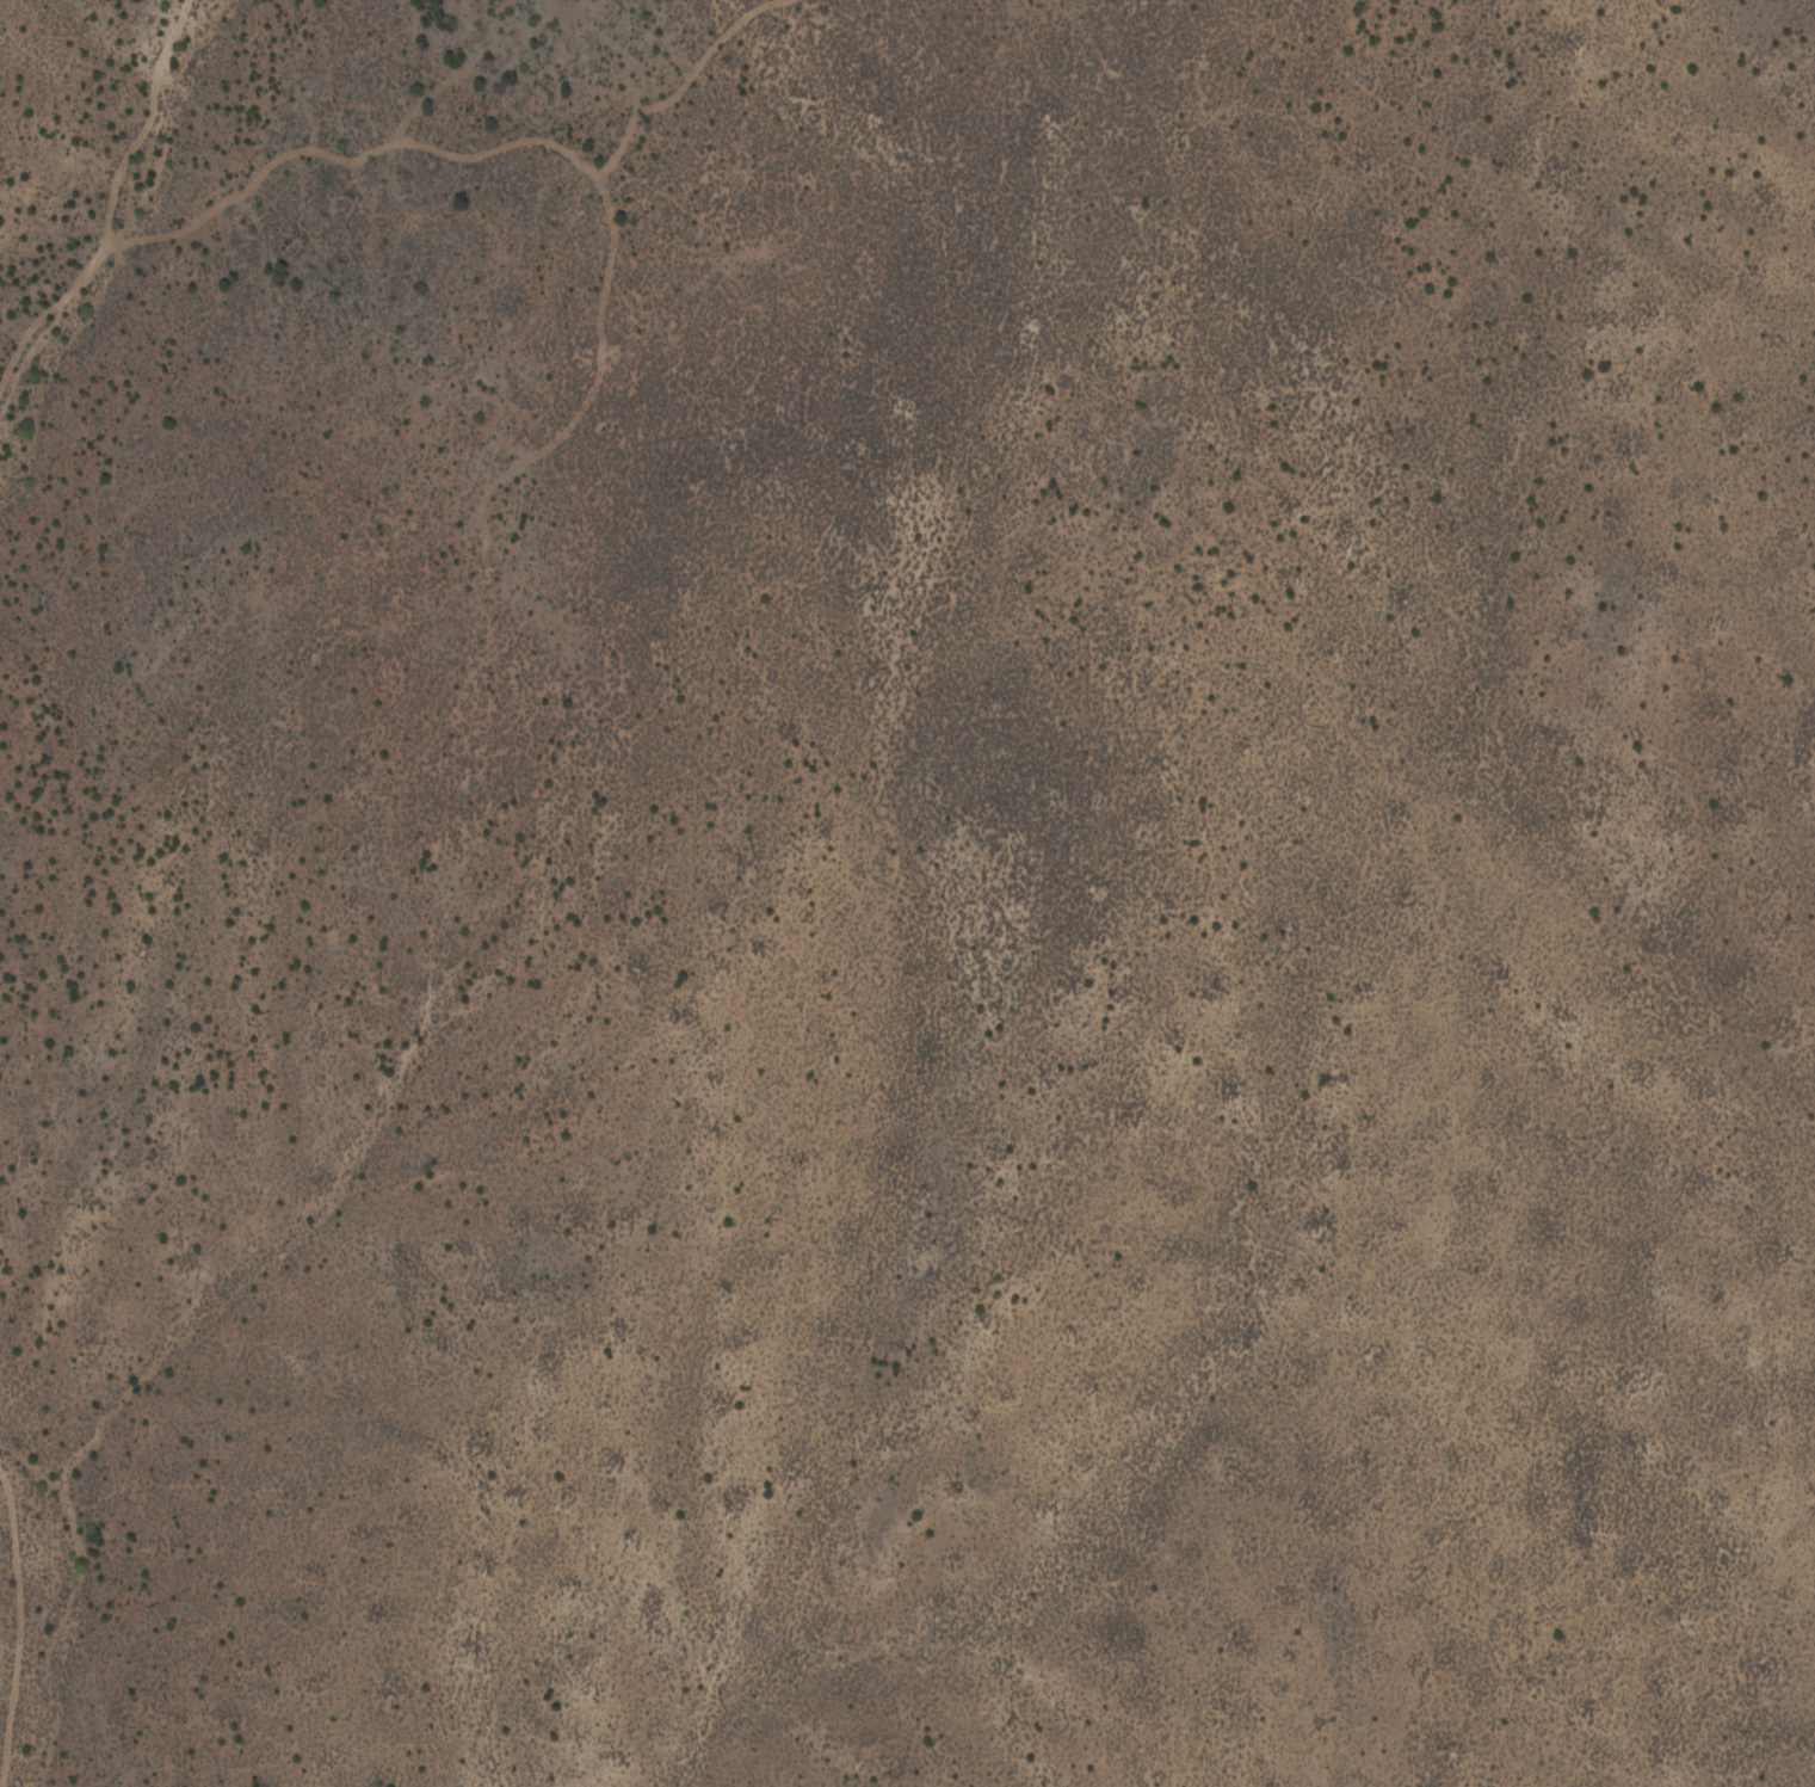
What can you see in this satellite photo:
road: (104, 178)
road: (13, 1584)

